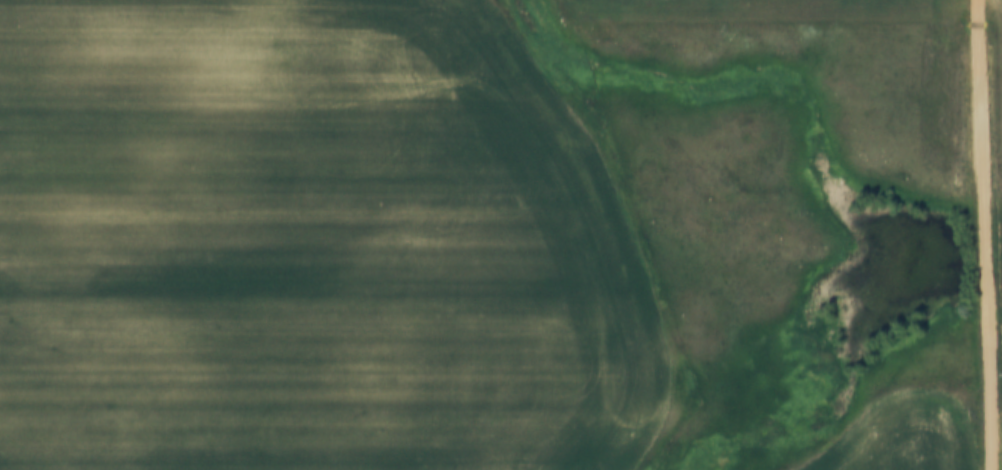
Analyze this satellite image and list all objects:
road: (982, 234)

